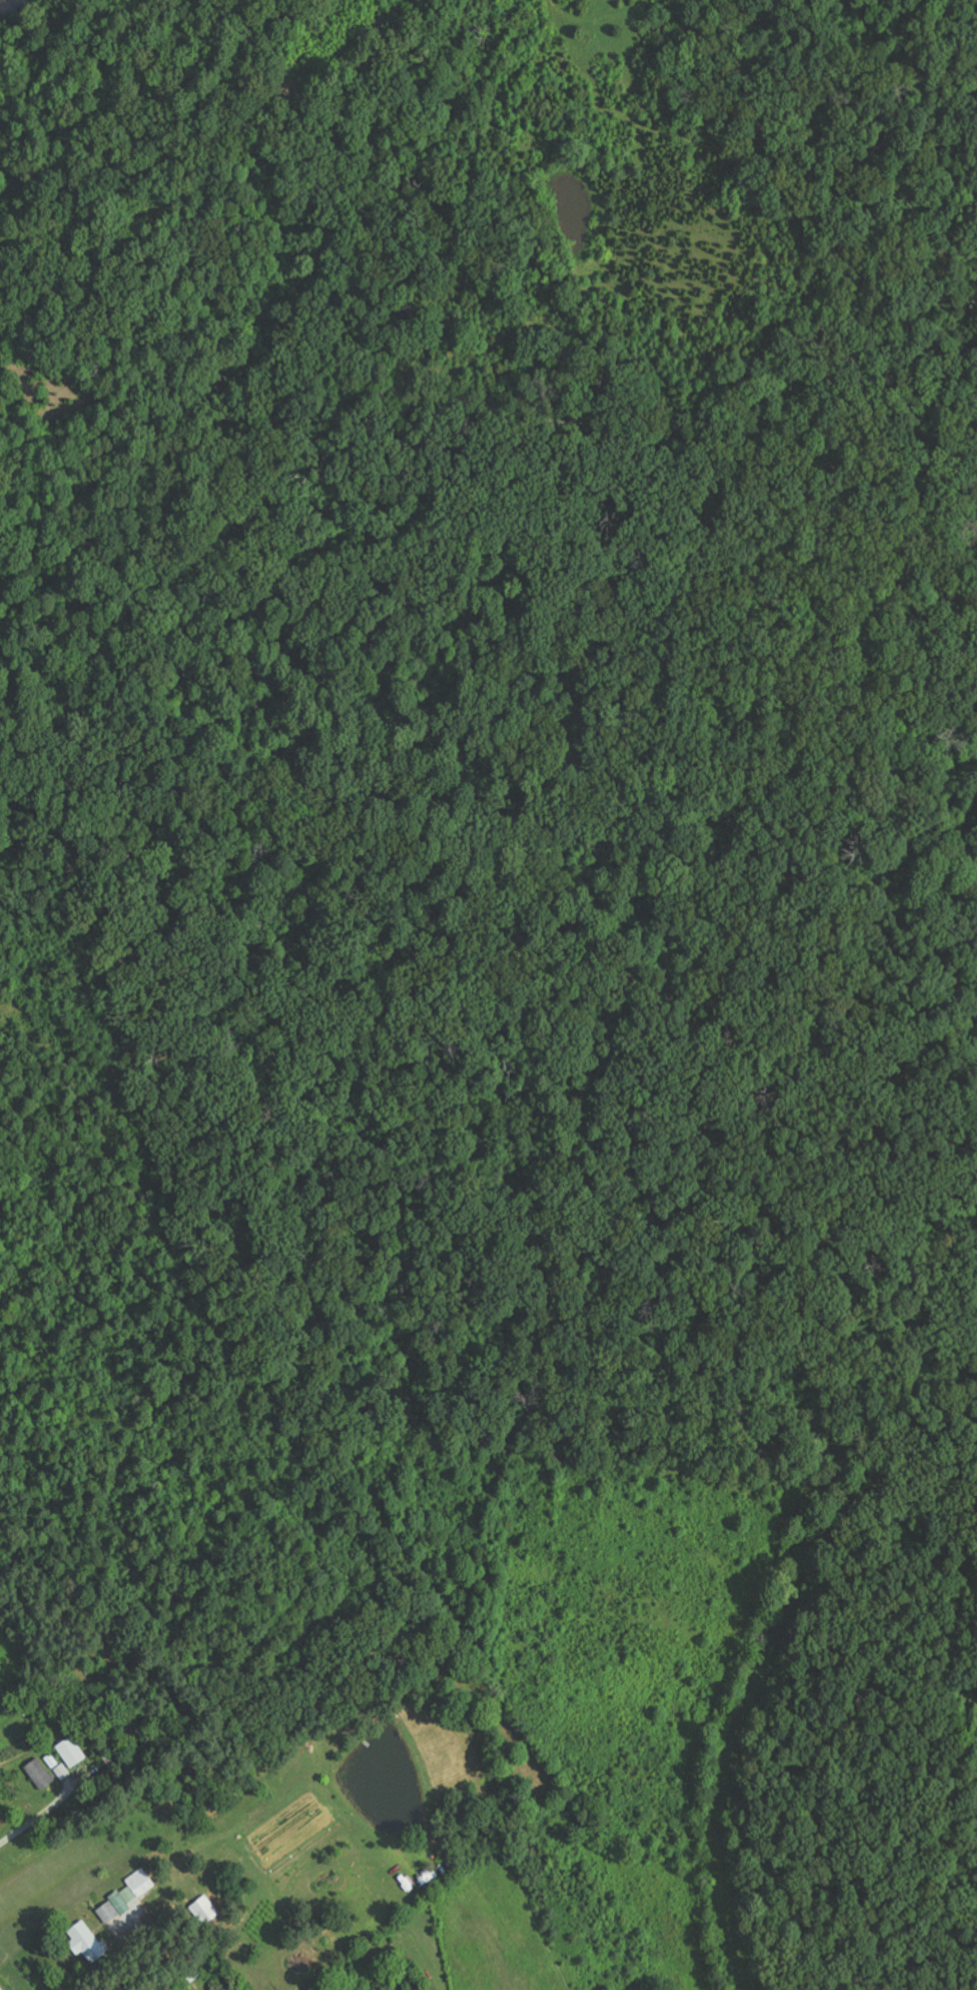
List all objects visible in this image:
building: (71, 1751)
building: (52, 1761)
building: (62, 1771)
building: (40, 1773)
building: (126, 1901)
building: (87, 1942)

